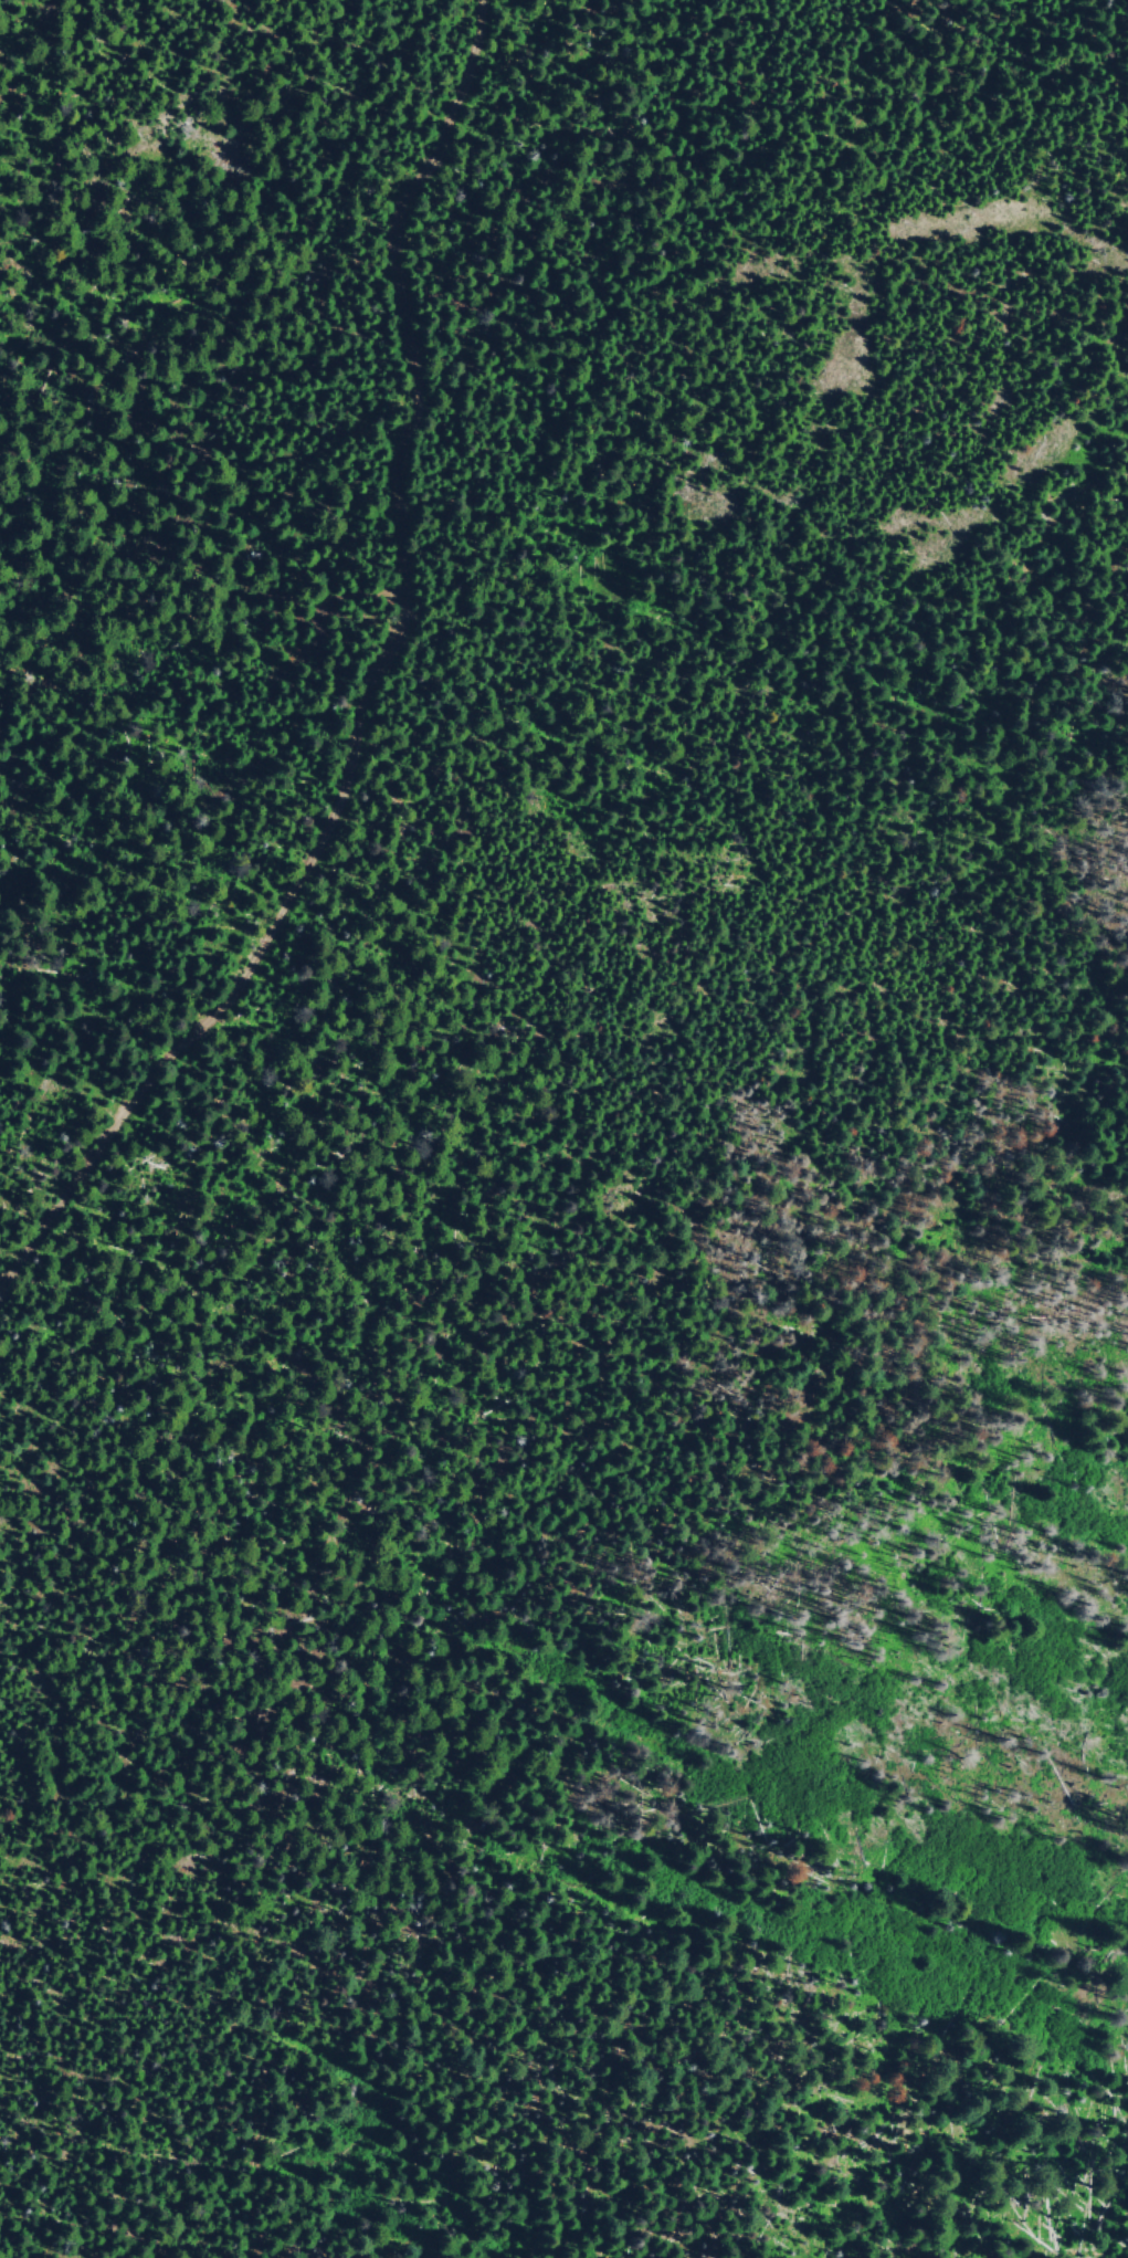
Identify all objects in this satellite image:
road: (363, 674)
road: (1031, 2088)

